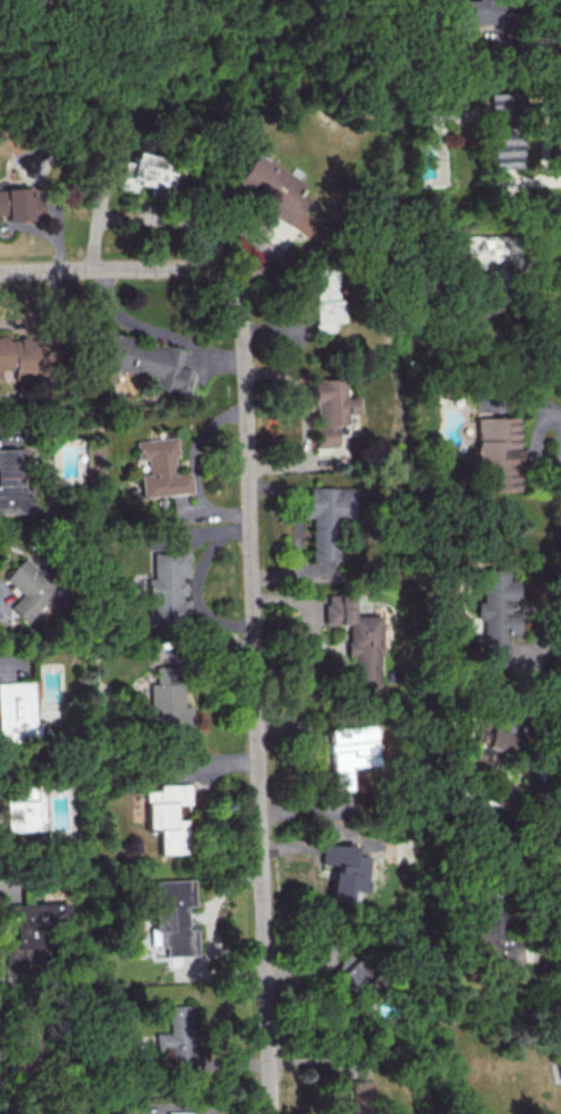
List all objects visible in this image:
building: (475, 11)
building: (501, 130)
building: (144, 172)
building: (274, 191)
building: (20, 204)
road: (141, 216)
road: (39, 272)
building: (325, 299)
road: (159, 330)
building: (22, 356)
building: (145, 361)
building: (329, 409)
road: (306, 420)
building: (497, 450)
building: (159, 467)
building: (11, 480)
building: (325, 518)
road: (193, 583)
building: (167, 587)
building: (29, 590)
building: (493, 615)
road: (543, 622)
road: (253, 623)
building: (355, 637)
building: (169, 706)
building: (17, 712)
building: (487, 744)
building: (348, 753)
building: (23, 808)
building: (167, 816)
building: (345, 870)
building: (172, 917)
building: (31, 930)
building: (496, 930)
building: (359, 981)
building: (560, 1033)
building: (174, 1040)
building: (558, 1067)
building: (359, 1096)
building: (178, 1112)

